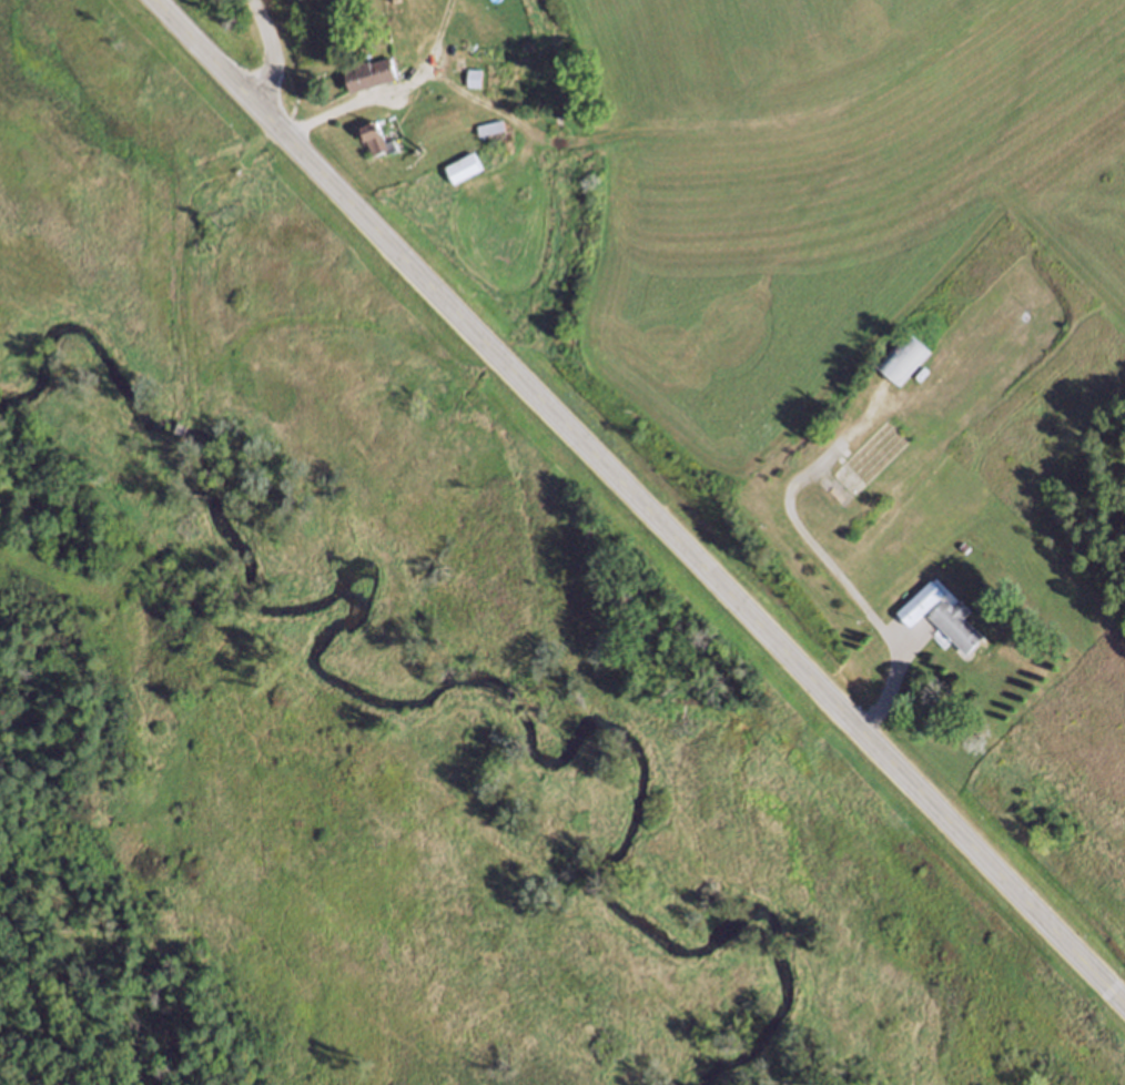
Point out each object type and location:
road: (271, 50)
building: (372, 73)
building: (475, 78)
road: (402, 84)
building: (491, 126)
building: (378, 141)
building: (465, 168)
building: (904, 359)
road: (639, 501)
building: (964, 549)
building: (919, 604)
building: (955, 622)
road: (890, 680)

